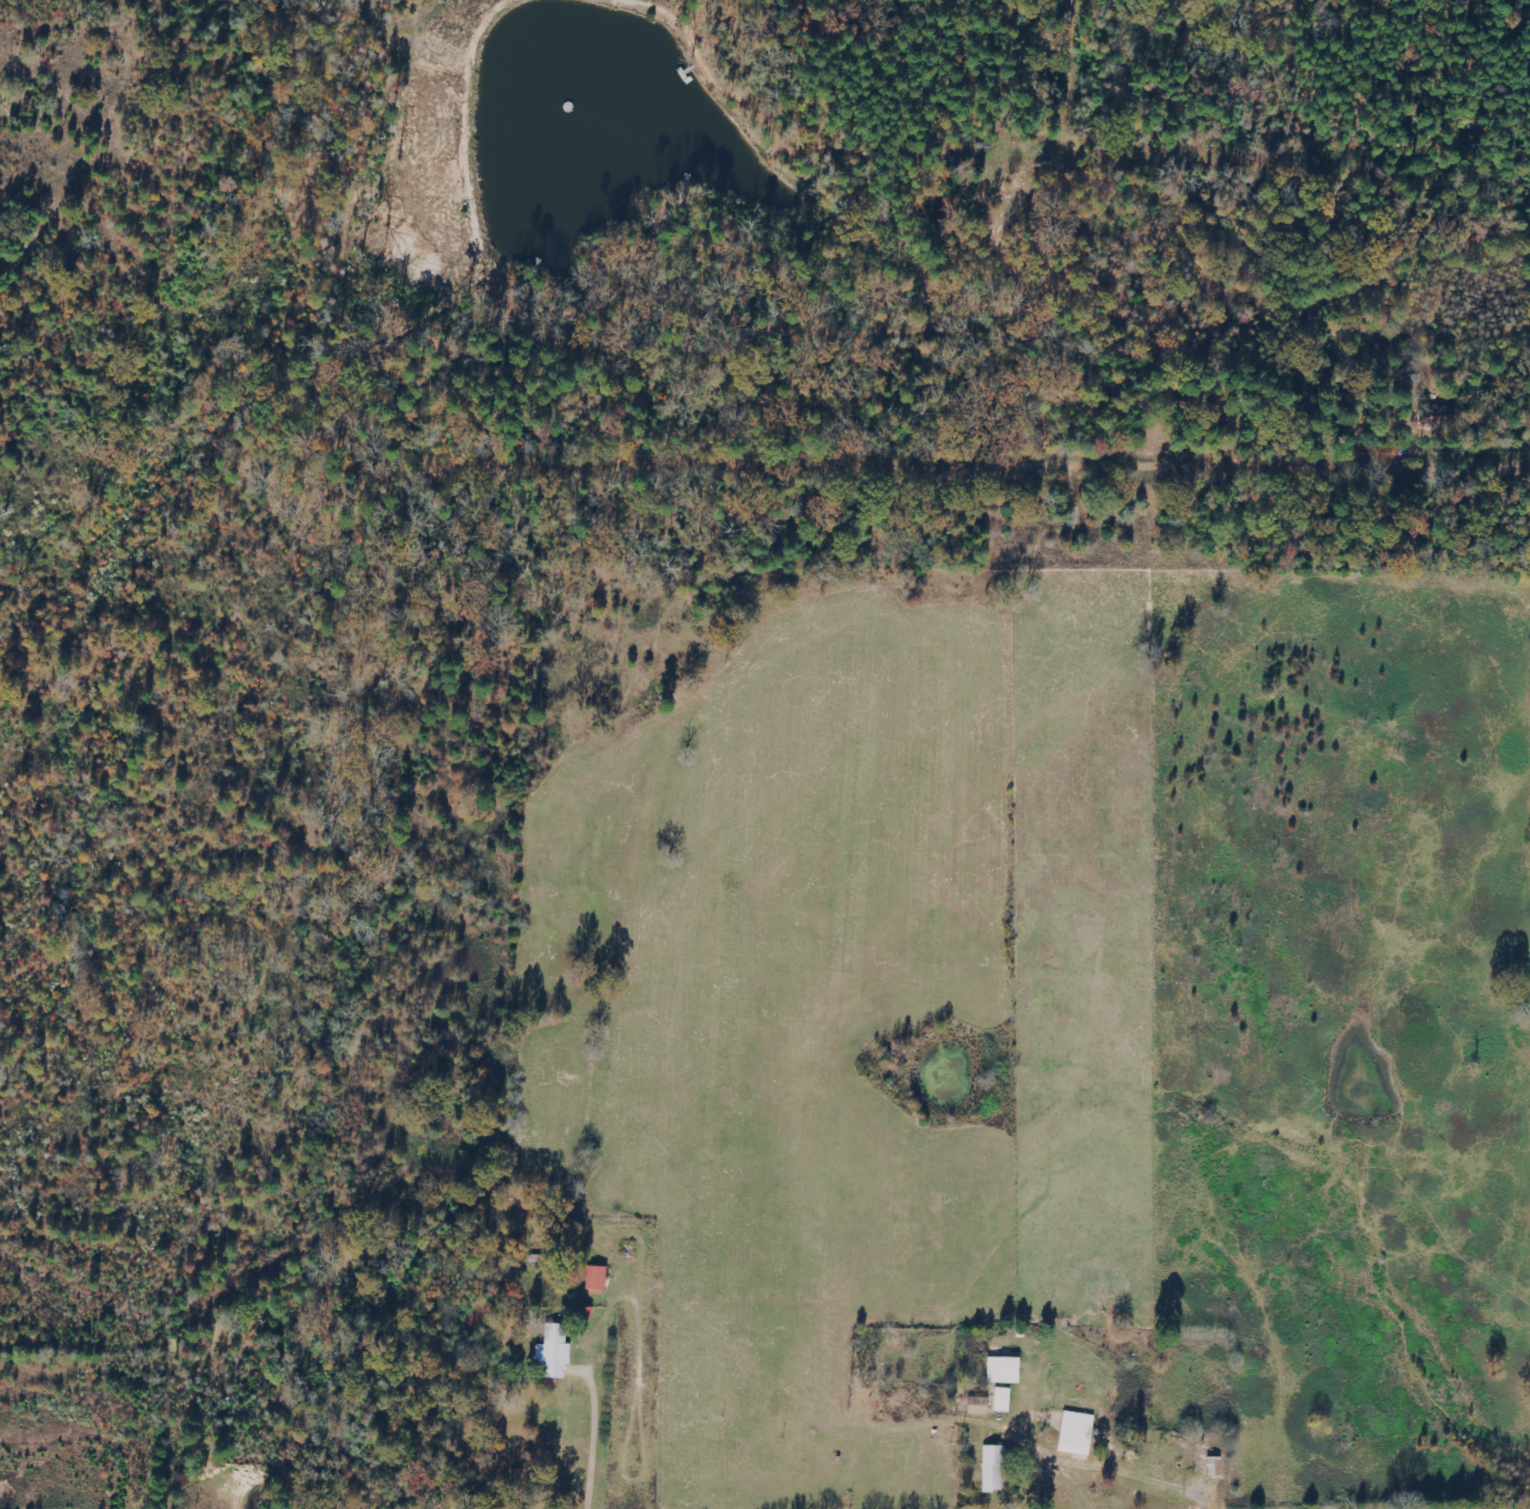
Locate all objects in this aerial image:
road: (210, 138)
road: (1273, 229)
building: (1446, 419)
road: (995, 456)
building: (598, 1278)
building: (556, 1352)
road: (861, 1360)
building: (1006, 1371)
building: (1004, 1400)
building: (980, 1406)
building: (1078, 1434)
building: (1215, 1467)
building: (995, 1468)

